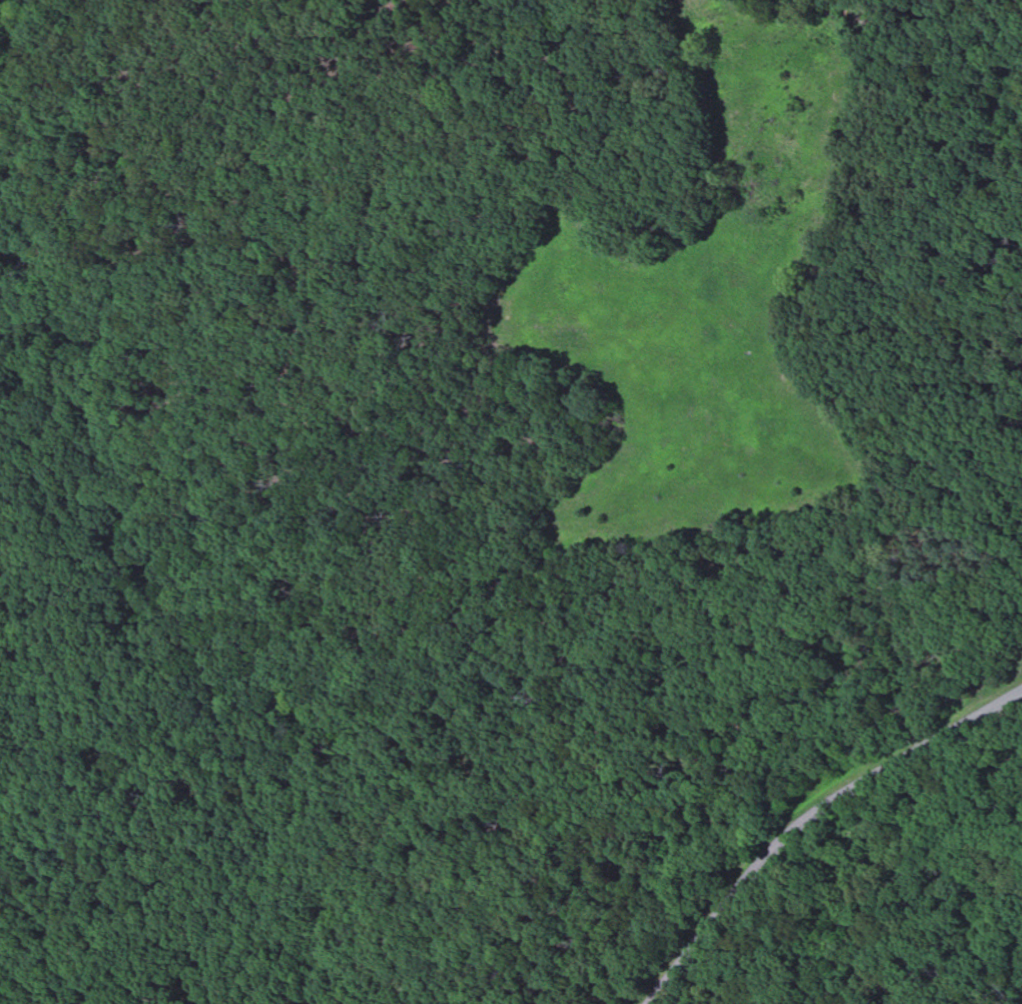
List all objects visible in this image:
road: (814, 824)

